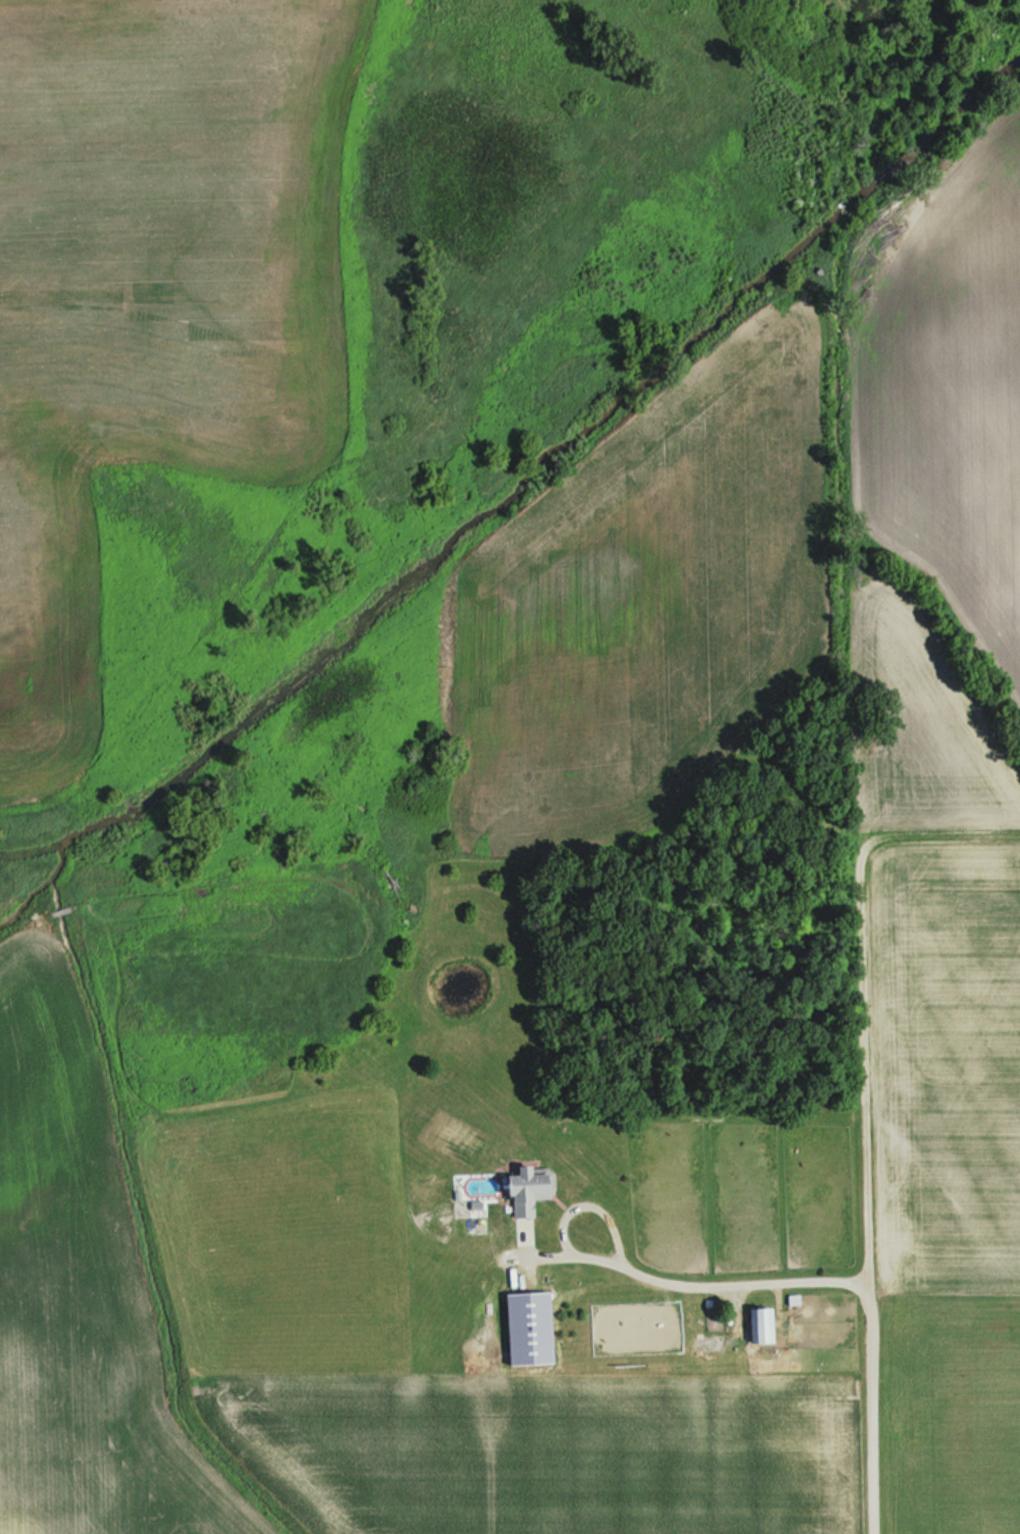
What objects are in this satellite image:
building: (534, 1192)
road: (600, 1257)
building: (765, 1328)
road: (875, 1354)

